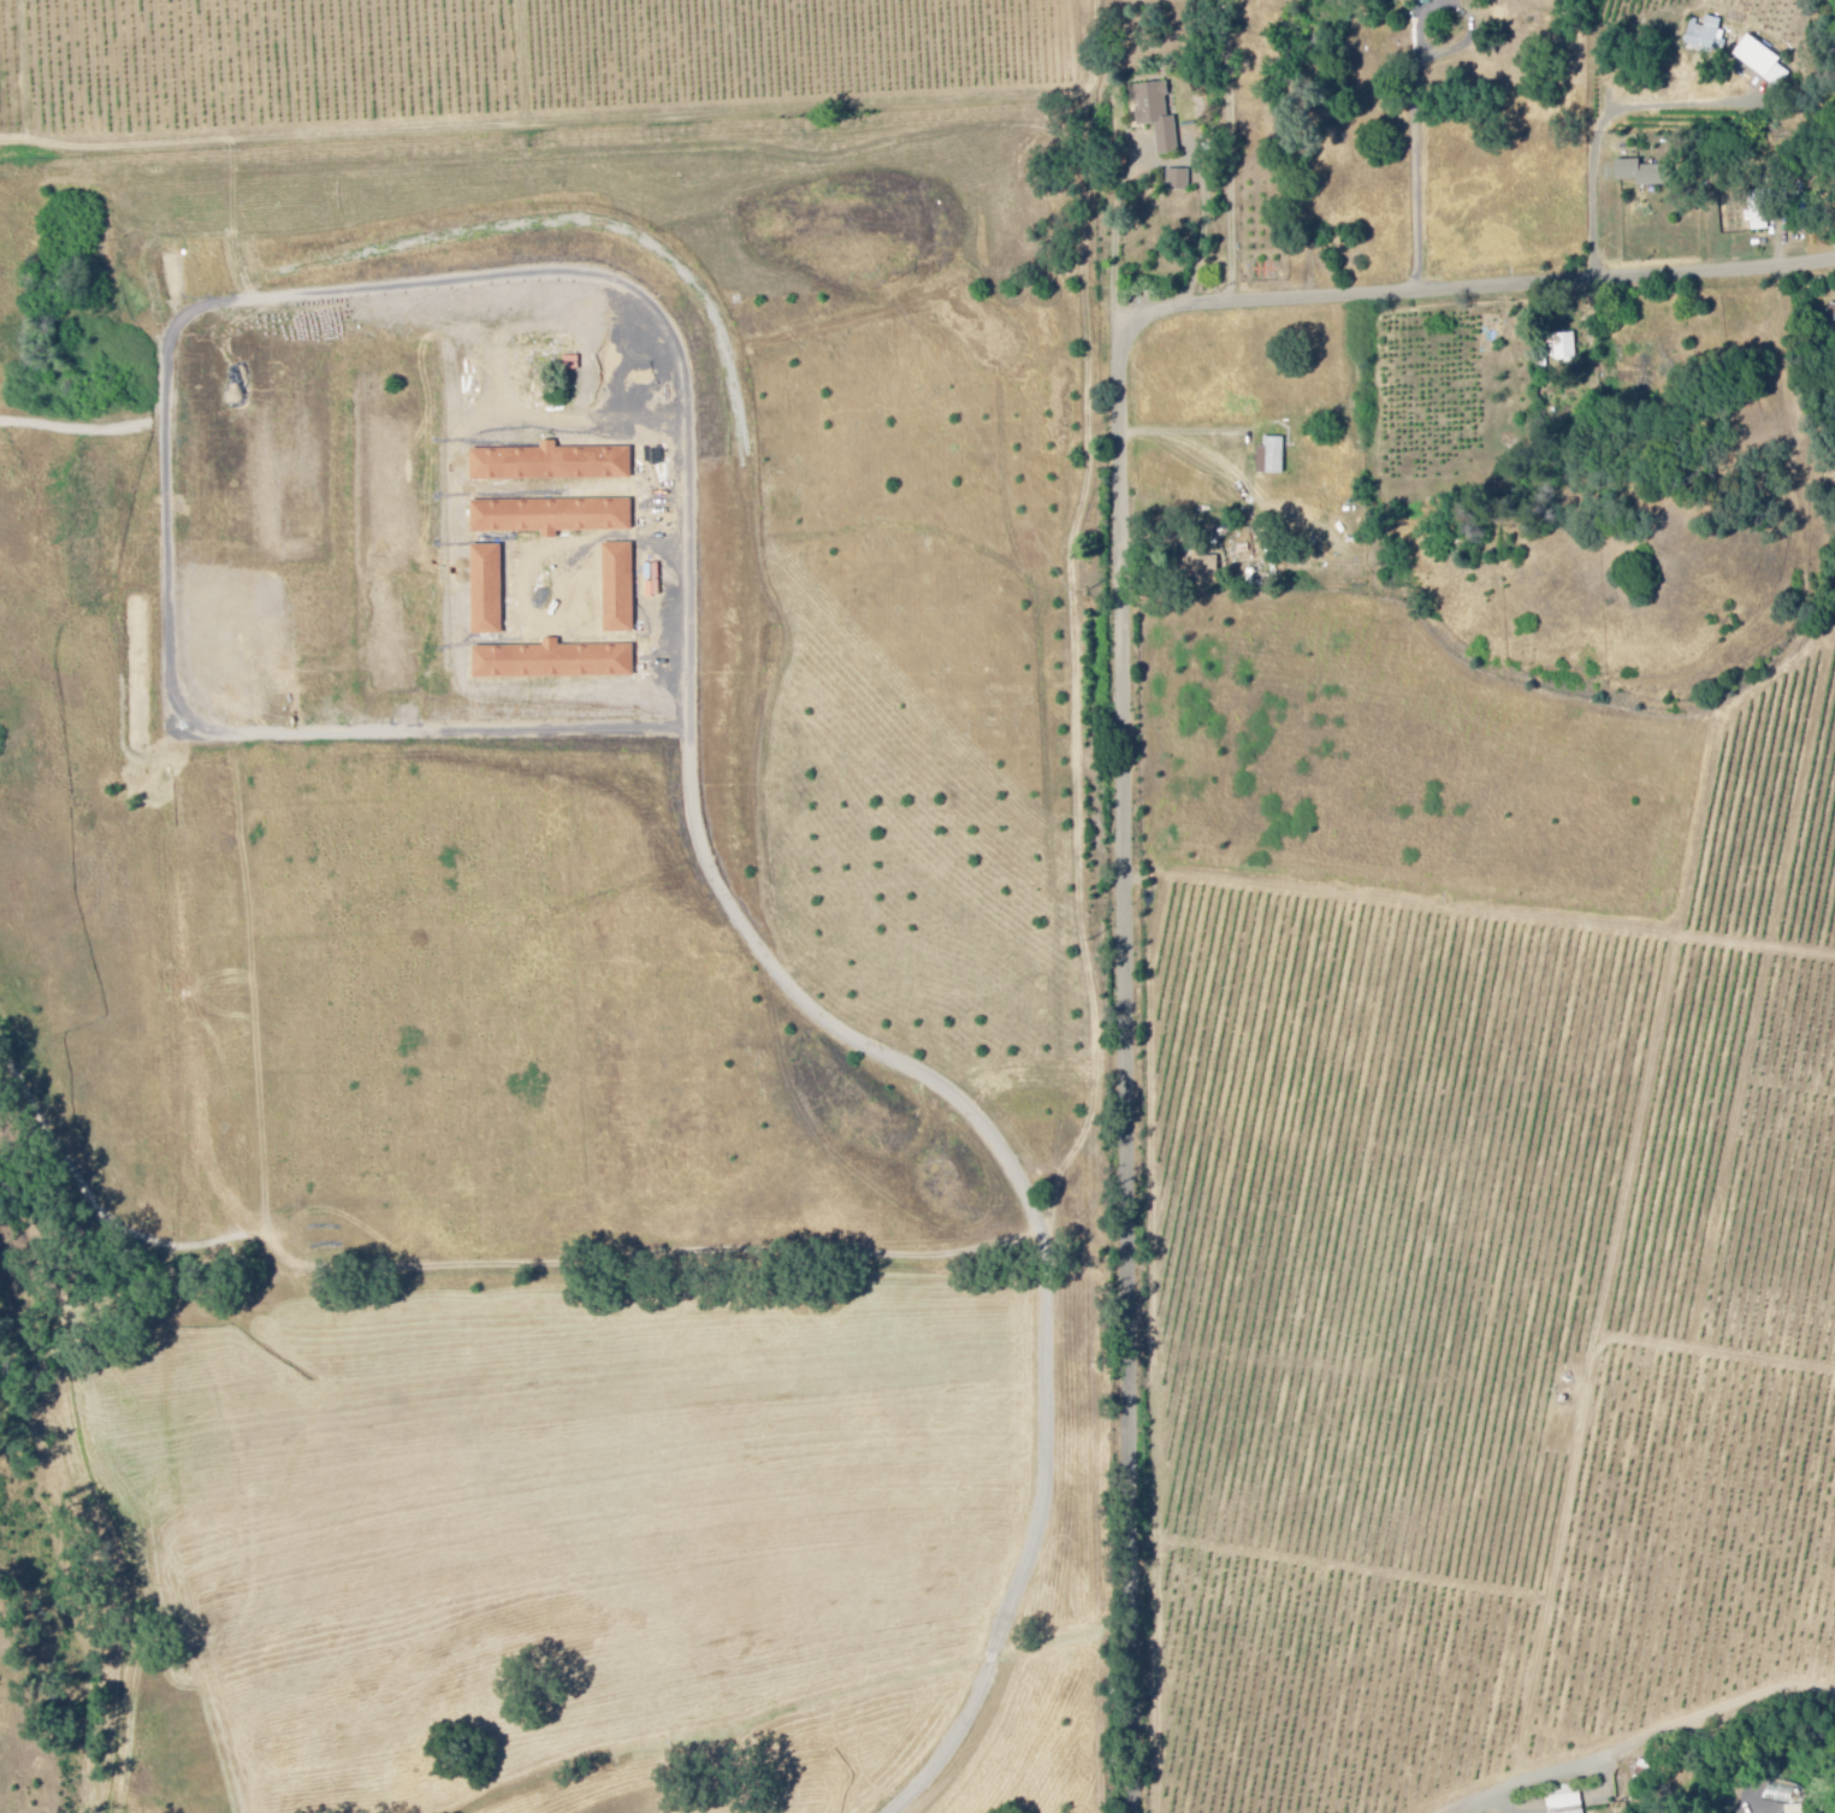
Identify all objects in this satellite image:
building: (1425, 2)
building: (1707, 39)
building: (1762, 63)
building: (1158, 117)
road: (1608, 124)
road: (1229, 152)
building: (1645, 175)
building: (1179, 182)
road: (1421, 199)
building: (1758, 214)
road: (1124, 231)
road: (1142, 312)
building: (1830, 318)
road: (1121, 330)
building: (1565, 349)
building: (579, 364)
building: (1272, 457)
building: (551, 465)
building: (552, 518)
building: (1208, 572)
building: (554, 662)
road: (1123, 714)
road: (1655, 1736)
building: (1567, 1802)

